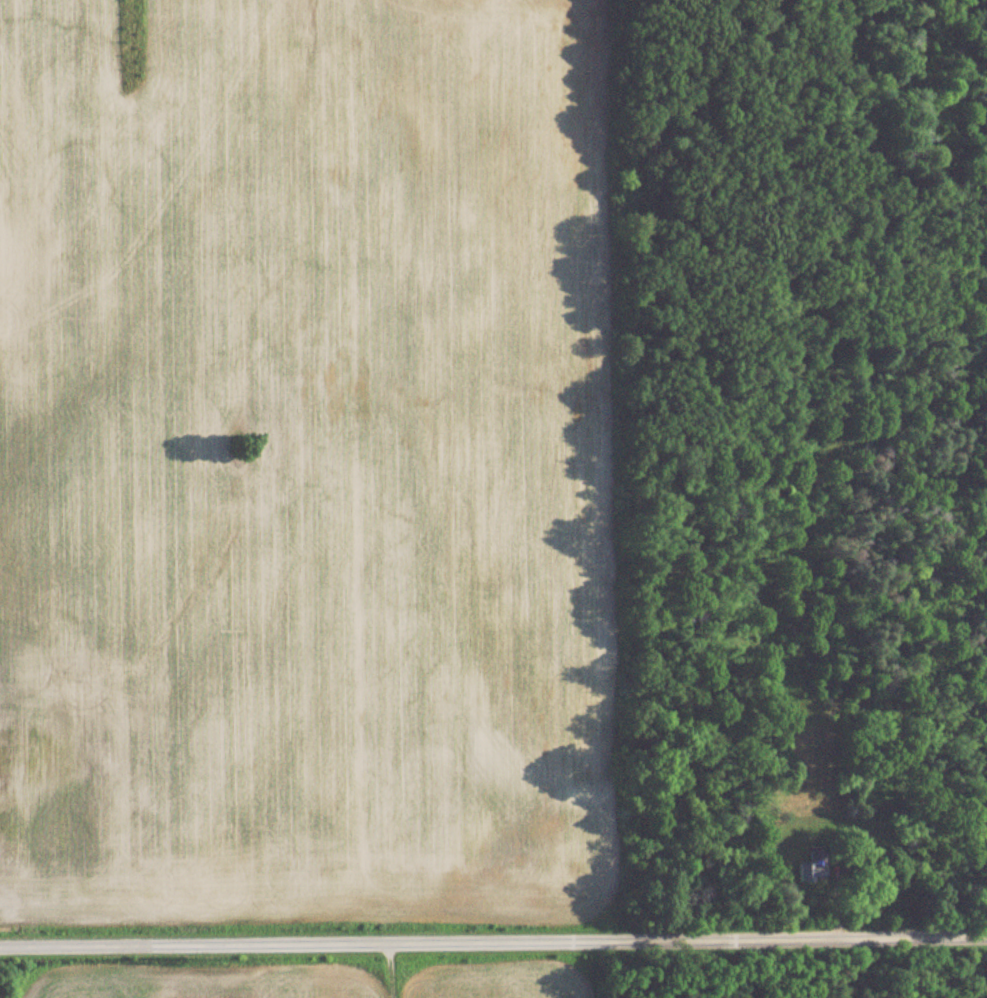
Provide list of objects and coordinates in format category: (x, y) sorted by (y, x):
crop: (304, 459)
building: (806, 863)
road: (493, 943)
crop: (206, 981)
crop: (512, 982)

